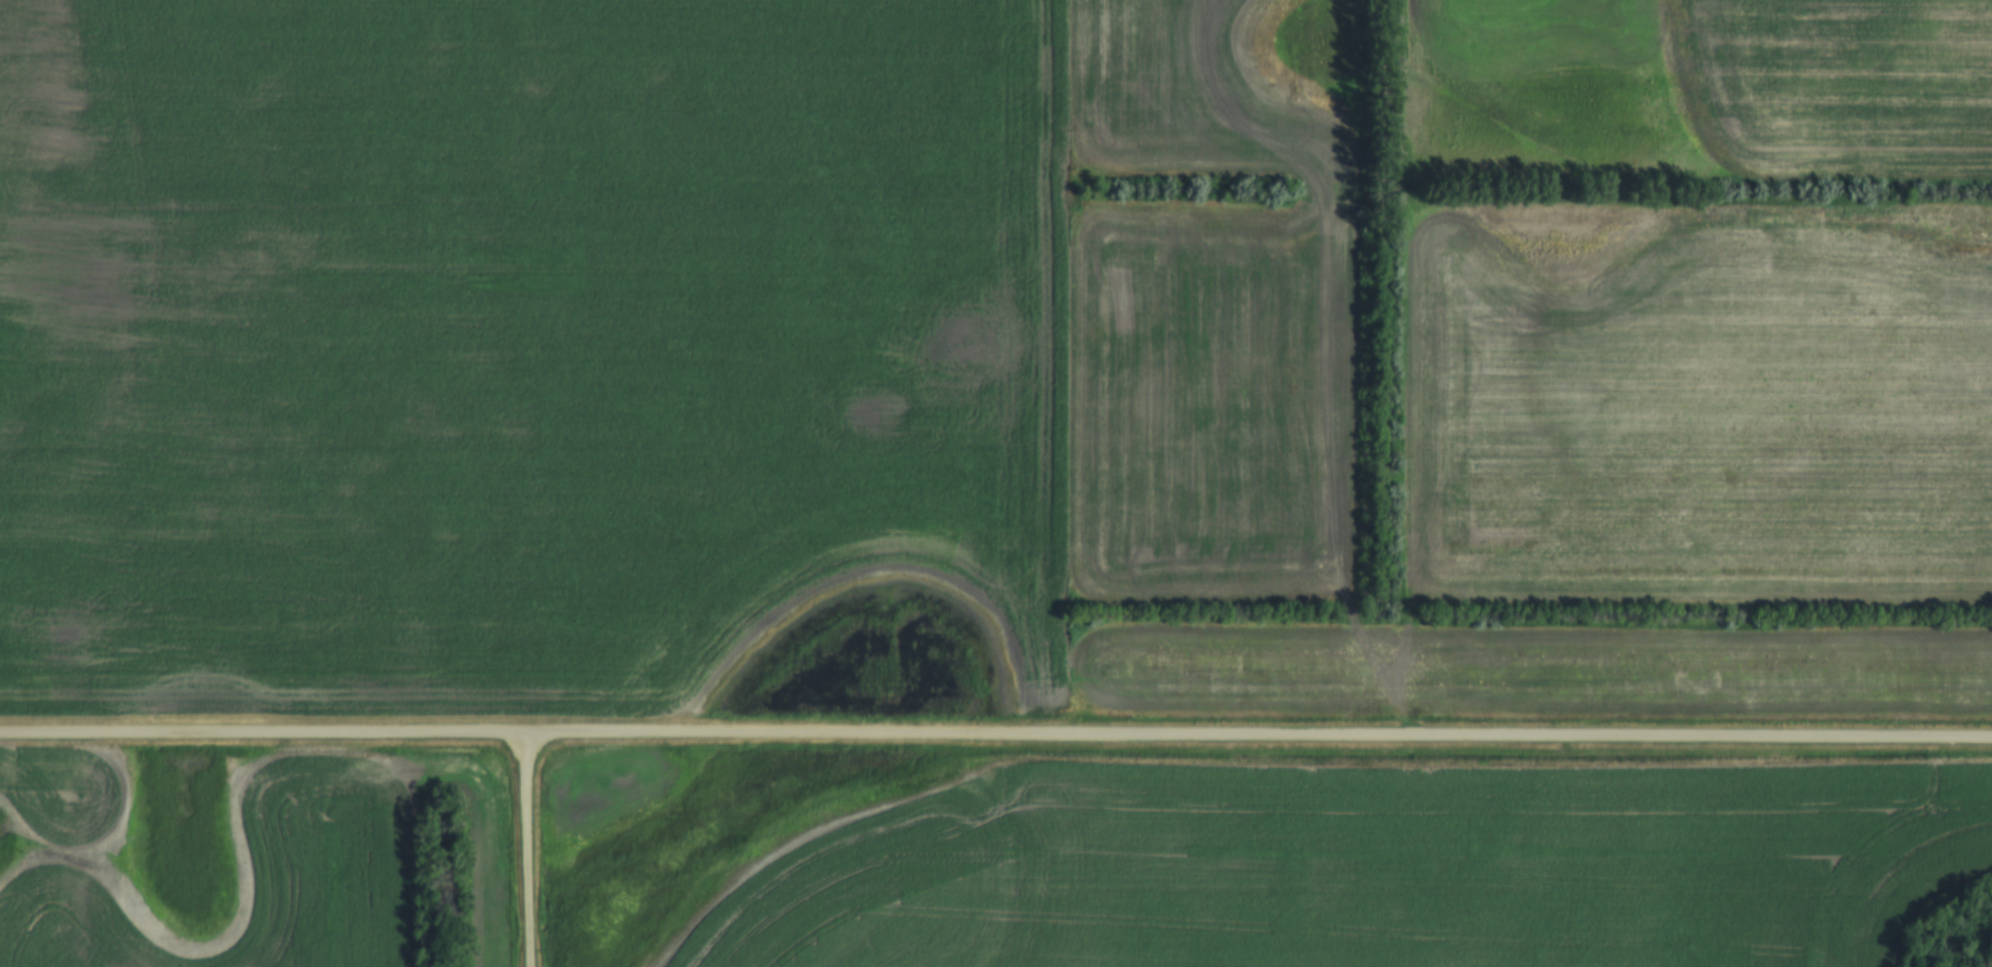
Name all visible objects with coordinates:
road: (995, 736)
road: (531, 853)

